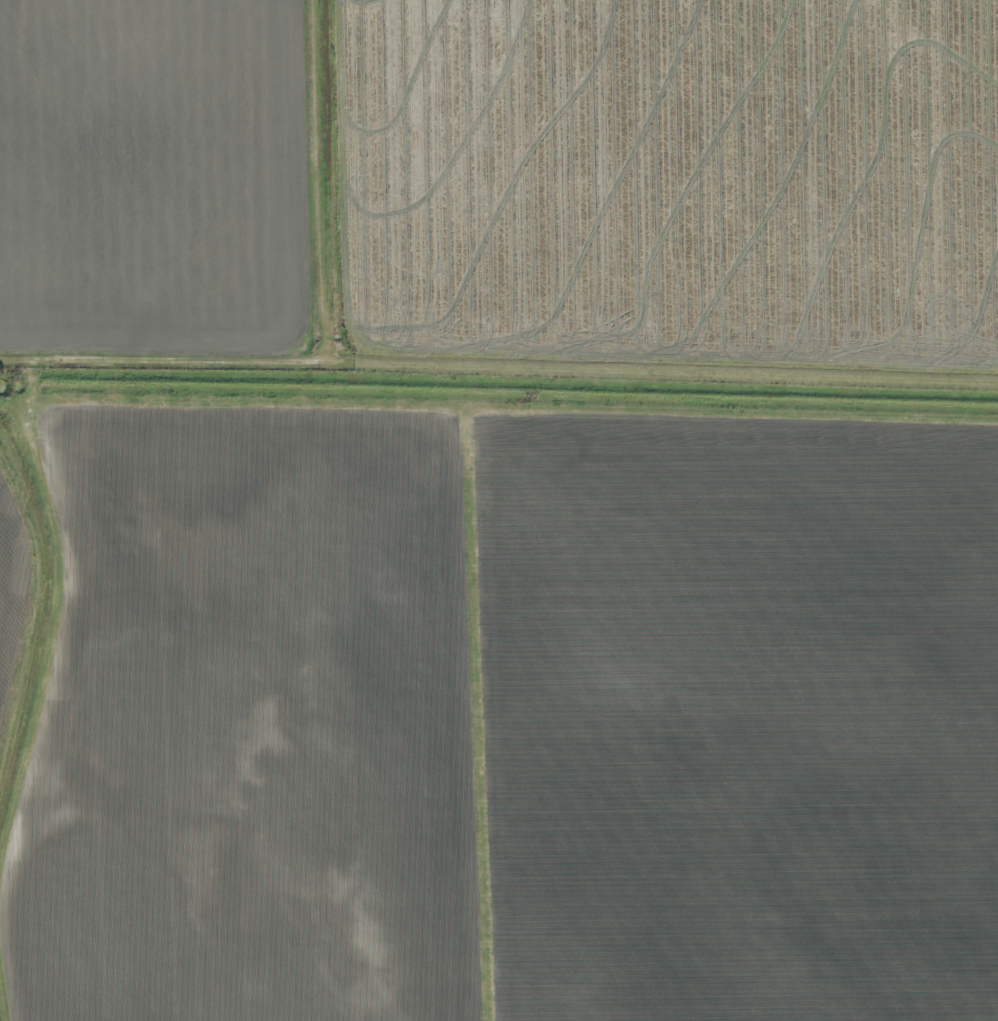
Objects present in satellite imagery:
road: (326, 182)
road: (499, 367)
road: (273, 406)
road: (483, 714)
road: (2, 1004)

